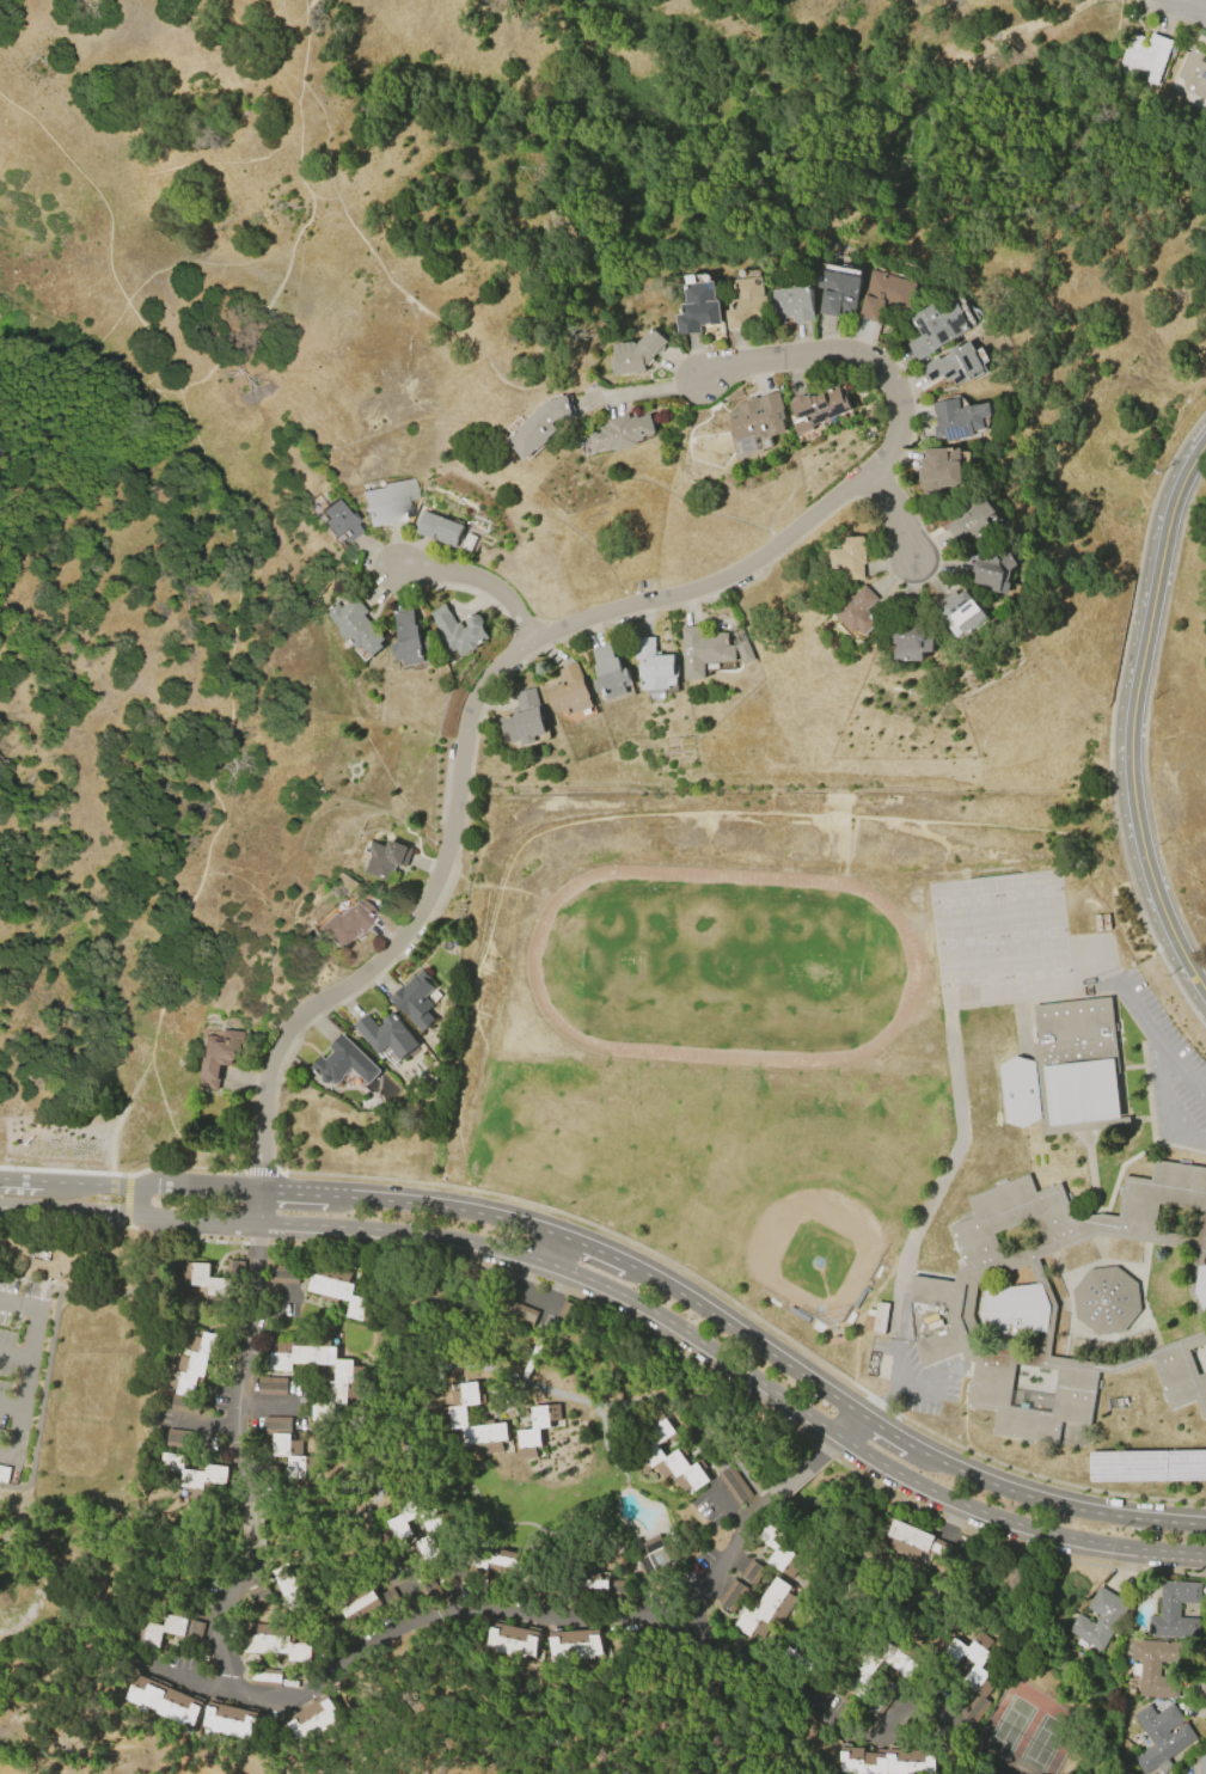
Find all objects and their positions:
road: (1182, 6)
building: (1141, 57)
building: (1194, 69)
road: (372, 251)
building: (835, 293)
building: (884, 295)
building: (745, 304)
building: (791, 305)
building: (696, 308)
building: (935, 328)
building: (637, 353)
road: (849, 355)
building: (953, 365)
road: (642, 393)
building: (818, 409)
building: (758, 417)
building: (959, 418)
building: (541, 426)
building: (620, 433)
building: (938, 469)
building: (387, 502)
road: (895, 508)
building: (969, 519)
building: (339, 522)
building: (436, 527)
building: (850, 558)
building: (992, 571)
road: (469, 582)
building: (962, 606)
building: (857, 611)
road: (227, 617)
building: (354, 620)
building: (458, 629)
building: (406, 637)
building: (912, 642)
building: (703, 648)
building: (742, 652)
building: (654, 663)
building: (608, 669)
building: (569, 689)
building: (524, 716)
road: (1144, 716)
road: (1131, 720)
road: (464, 745)
building: (384, 857)
building: (347, 922)
park: (721, 962)
track: (911, 964)
building: (412, 998)
road: (1141, 1018)
building: (384, 1034)
building: (216, 1058)
building: (342, 1062)
parking lot: (1165, 1063)
building: (1065, 1070)
road: (1189, 1073)
road: (1169, 1103)
road: (182, 1163)
road: (257, 1170)
park: (792, 1179)
road: (20, 1180)
road: (66, 1183)
road: (148, 1183)
road: (116, 1185)
road: (207, 1186)
road: (295, 1192)
road: (357, 1197)
road: (127, 1198)
road: (140, 1199)
road: (258, 1205)
road: (69, 1210)
road: (471, 1212)
road: (198, 1218)
road: (404, 1231)
road: (184, 1238)
road: (257, 1242)
road: (553, 1249)
road: (593, 1250)
road: (528, 1271)
building: (283, 1272)
road: (643, 1273)
building: (214, 1278)
building: (338, 1290)
road: (561, 1290)
road: (98, 1293)
building: (1104, 1298)
road: (551, 1301)
building: (1018, 1302)
road: (749, 1315)
road: (697, 1340)
road: (758, 1345)
road: (14, 1353)
building: (316, 1362)
parking lot: (18, 1364)
road: (27, 1372)
building: (190, 1375)
road: (893, 1390)
road: (42, 1400)
road: (11, 1403)
building: (322, 1417)
building: (458, 1420)
road: (846, 1424)
building: (537, 1429)
road: (882, 1430)
building: (287, 1446)
road: (824, 1451)
building: (668, 1456)
road: (931, 1457)
building: (1147, 1462)
building: (192, 1478)
road: (728, 1506)
road: (1077, 1507)
road: (1012, 1523)
building: (914, 1542)
road: (1009, 1544)
building: (777, 1546)
building: (660, 1558)
building: (489, 1564)
building: (789, 1568)
building: (598, 1583)
building: (290, 1584)
building: (1175, 1610)
building: (354, 1613)
building: (765, 1613)
building: (1100, 1619)
building: (169, 1629)
building: (278, 1641)
building: (509, 1643)
building: (570, 1643)
building: (888, 1663)
building: (1156, 1666)
road: (341, 1670)
building: (972, 1672)
road: (764, 1678)
road: (203, 1686)
building: (163, 1701)
building: (314, 1718)
building: (233, 1724)
park: (1023, 1732)
building: (1162, 1737)
building: (883, 1761)
building: (1198, 1762)

